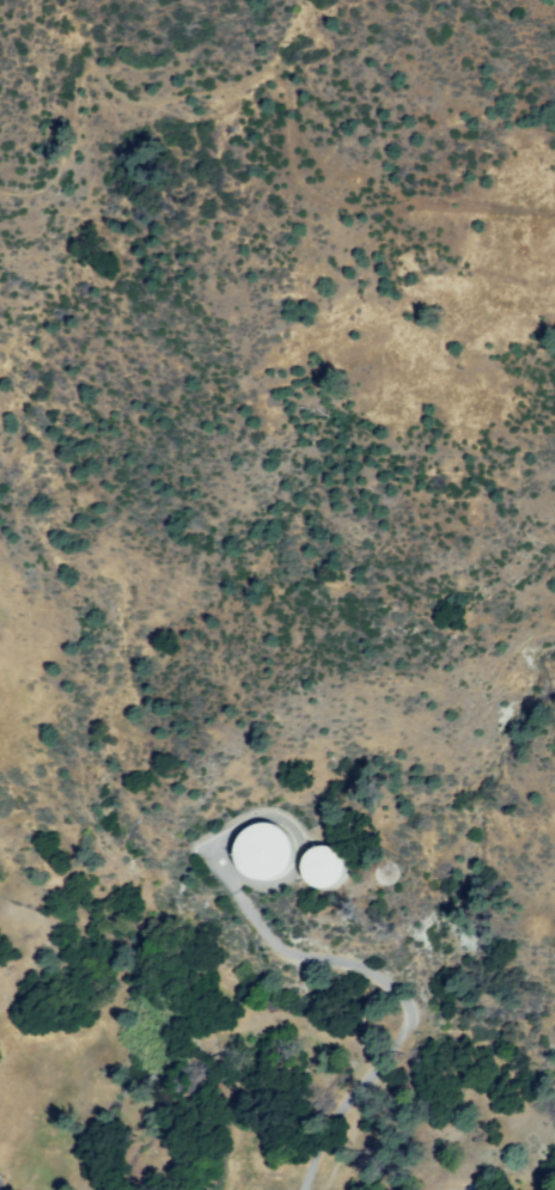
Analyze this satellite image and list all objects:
building: (260, 849)
building: (317, 865)
road: (404, 1005)

